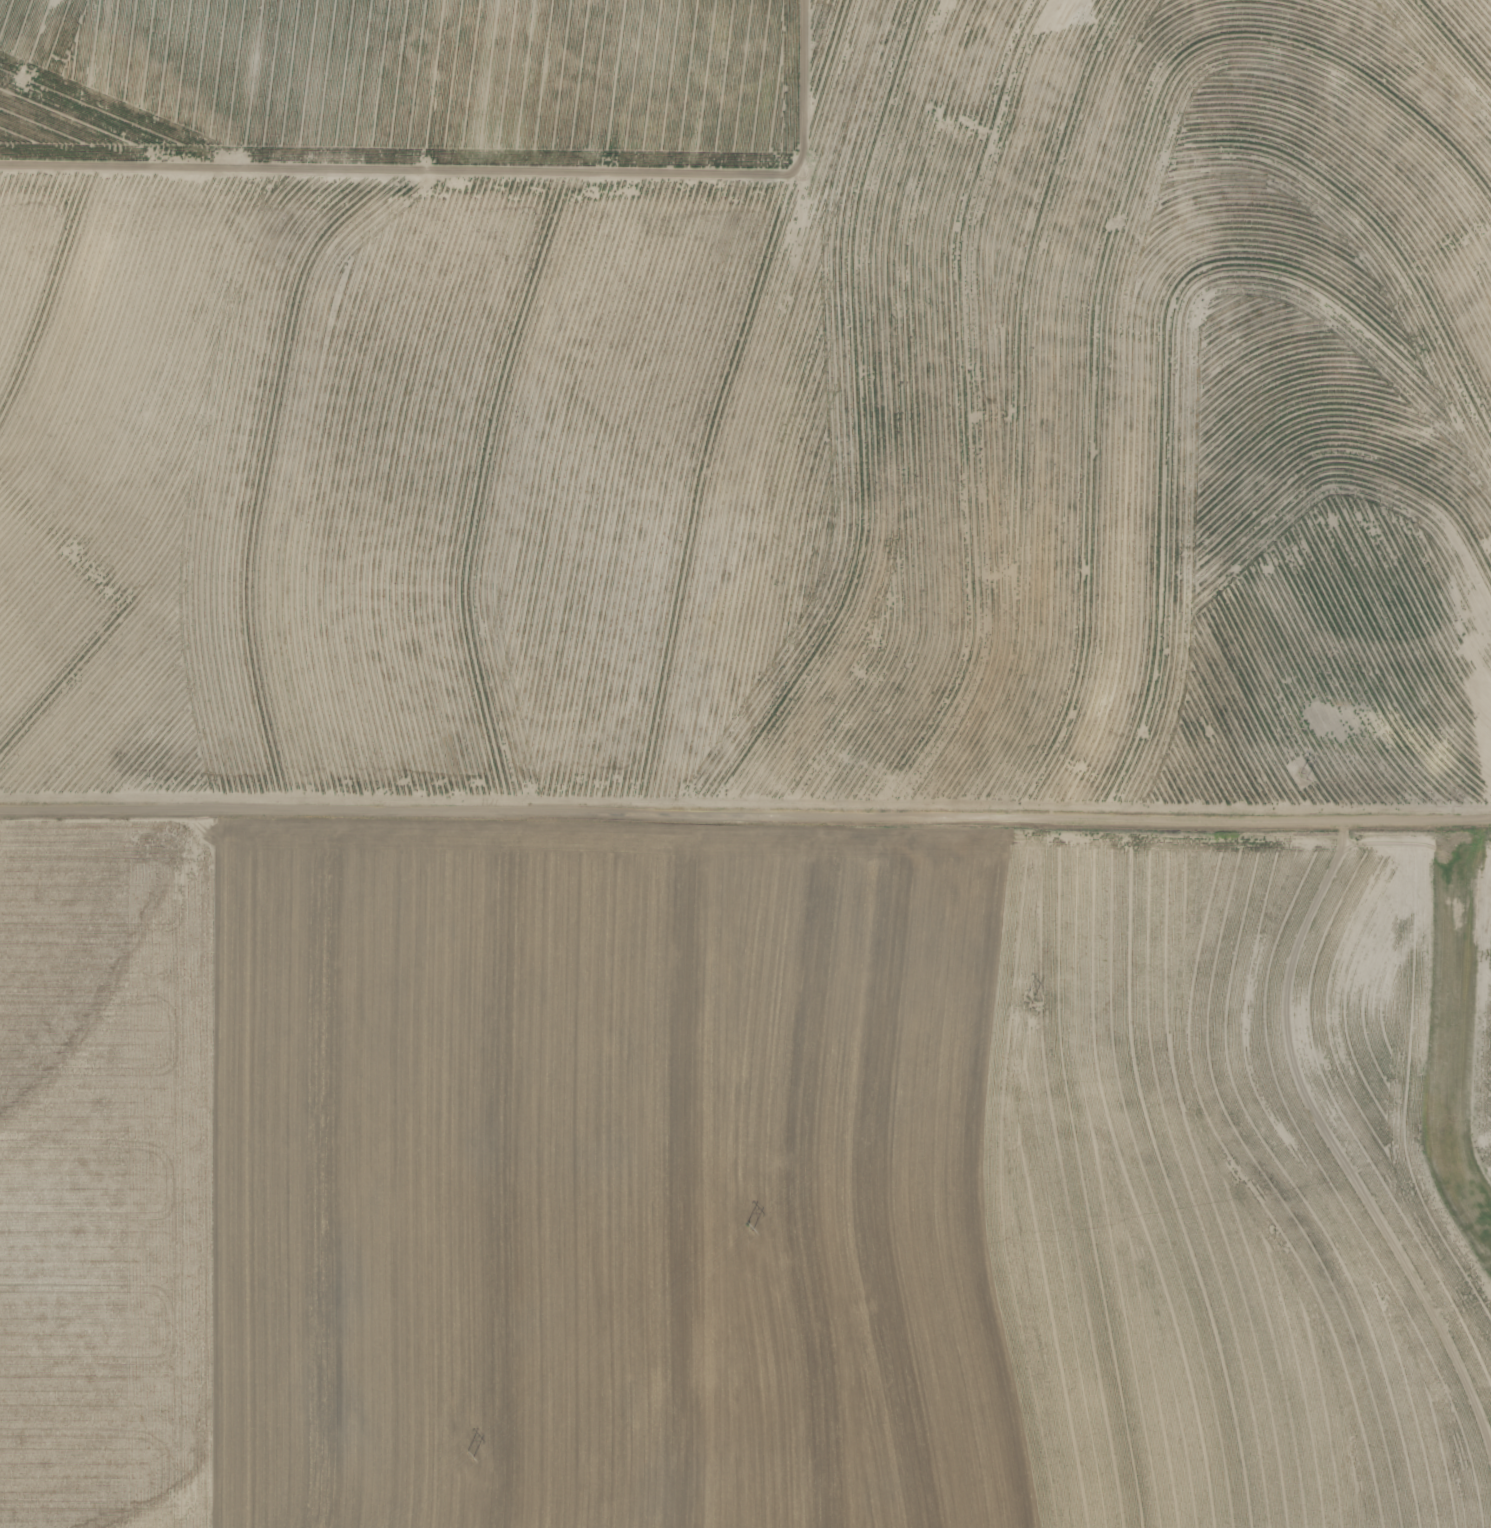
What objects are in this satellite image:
road: (1296, 430)
power tower: (1308, 776)
road: (745, 817)
power tower: (1033, 1001)
road: (1320, 1097)
power tower: (758, 1229)
power tower: (474, 1465)

